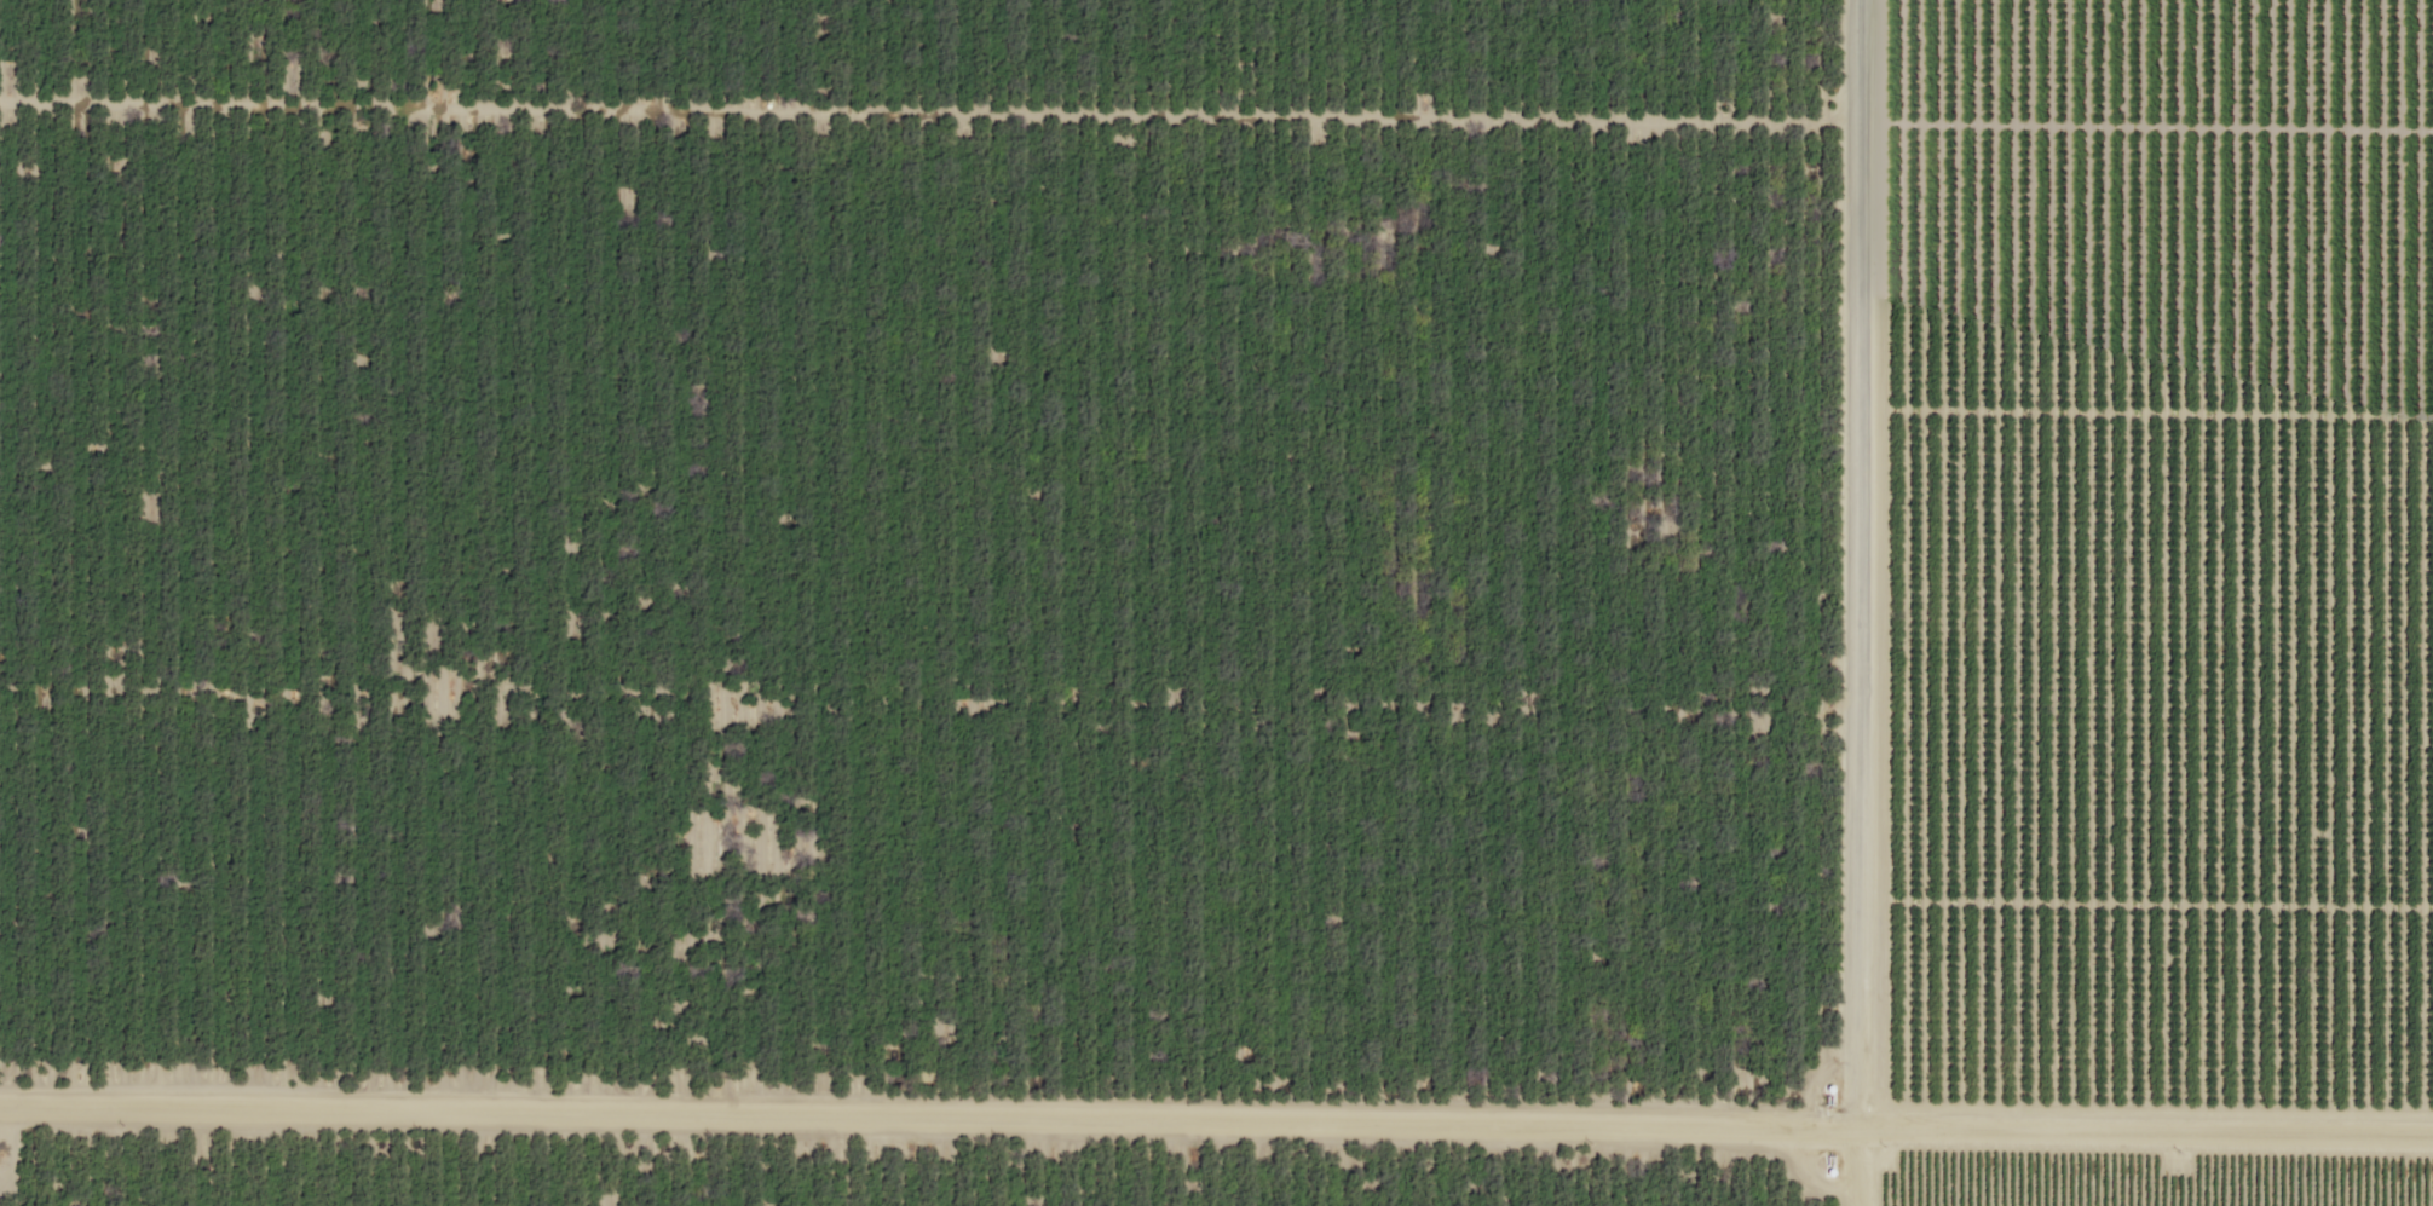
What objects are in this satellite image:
road: (1216, 1103)

